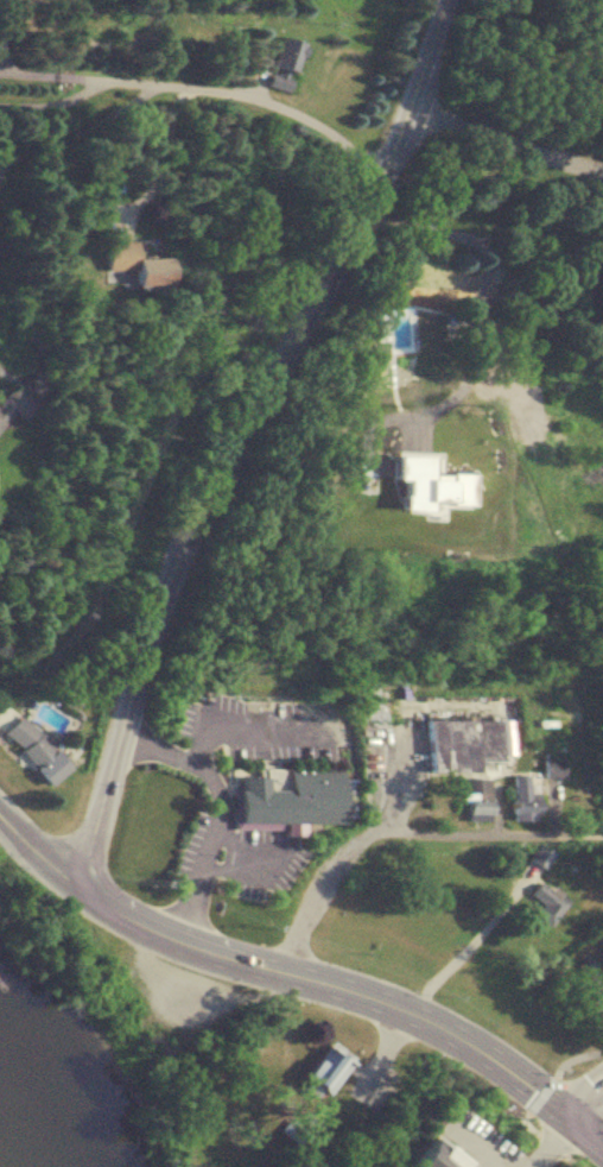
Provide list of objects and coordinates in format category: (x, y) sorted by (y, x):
road: (4, 24)
road: (82, 40)
building: (285, 62)
road: (535, 70)
road: (58, 77)
road: (32, 86)
road: (262, 99)
road: (66, 138)
road: (507, 141)
road: (159, 154)
building: (135, 261)
building: (429, 279)
road: (477, 298)
building: (14, 403)
road: (245, 436)
building: (463, 744)
building: (37, 750)
road: (395, 768)
building: (556, 768)
building: (291, 799)
building: (523, 799)
building: (477, 800)
road: (221, 813)
road: (401, 829)
road: (39, 853)
building: (548, 901)
road: (463, 944)
road: (331, 984)
building: (589, 991)
building: (324, 1071)
road: (520, 1096)
road: (584, 1099)
road: (584, 1129)
river: (11, 1150)
building: (436, 1155)

